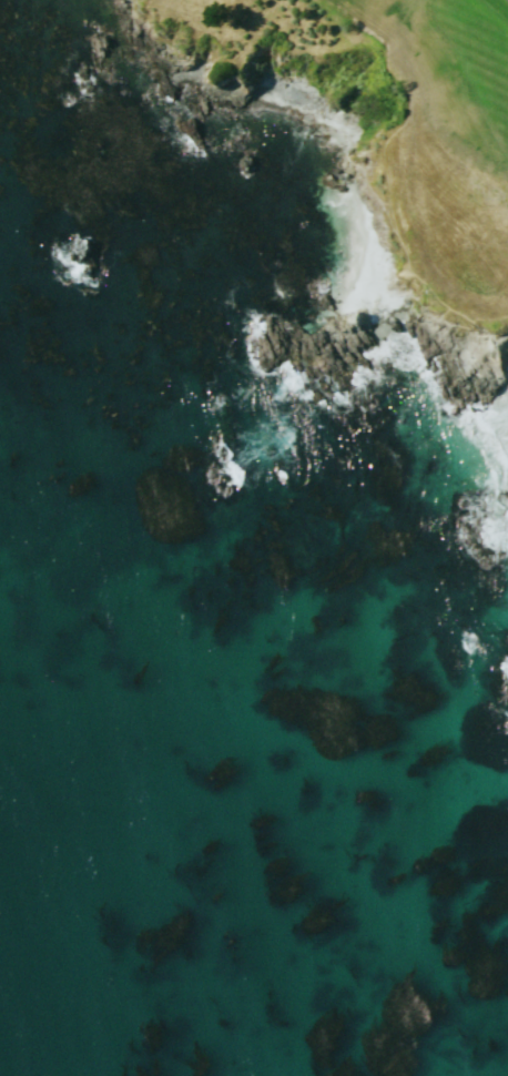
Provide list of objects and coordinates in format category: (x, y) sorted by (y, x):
park: (449, 143)
building: (79, 257)

